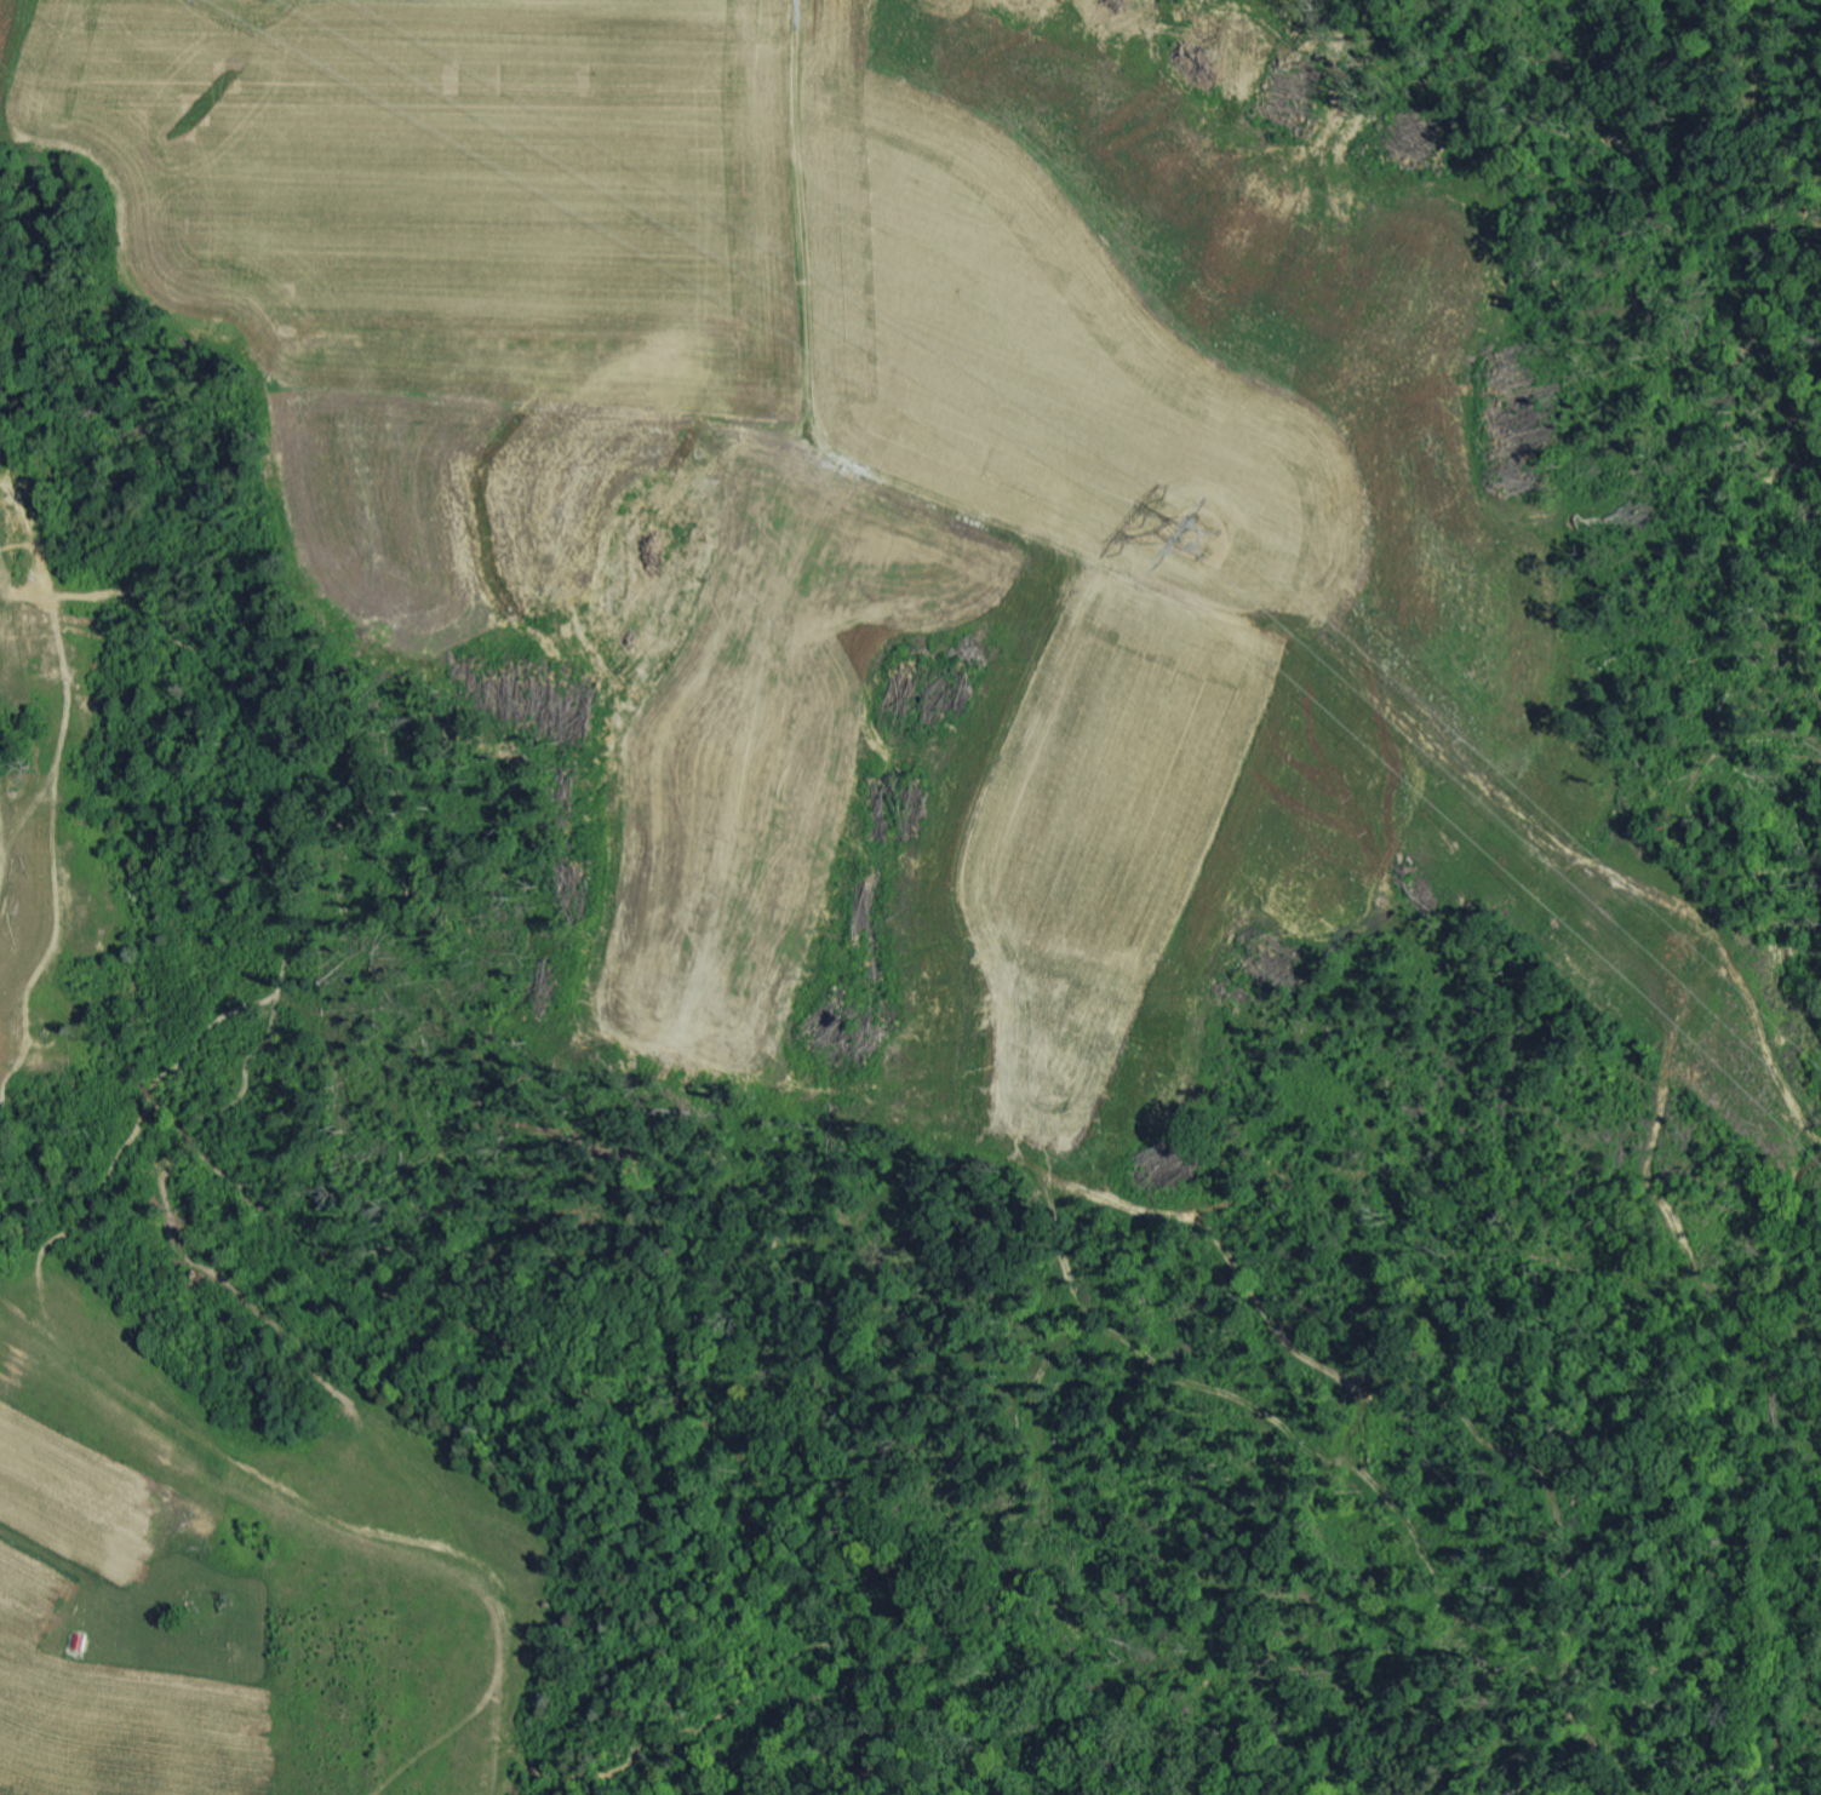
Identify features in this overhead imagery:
power tower: (1218, 549)

